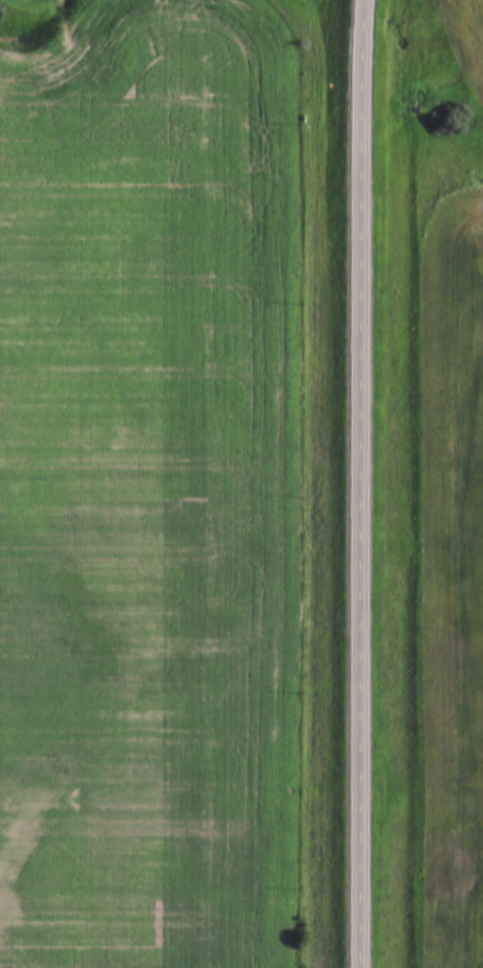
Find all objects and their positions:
road: (363, 55)
road: (361, 539)

